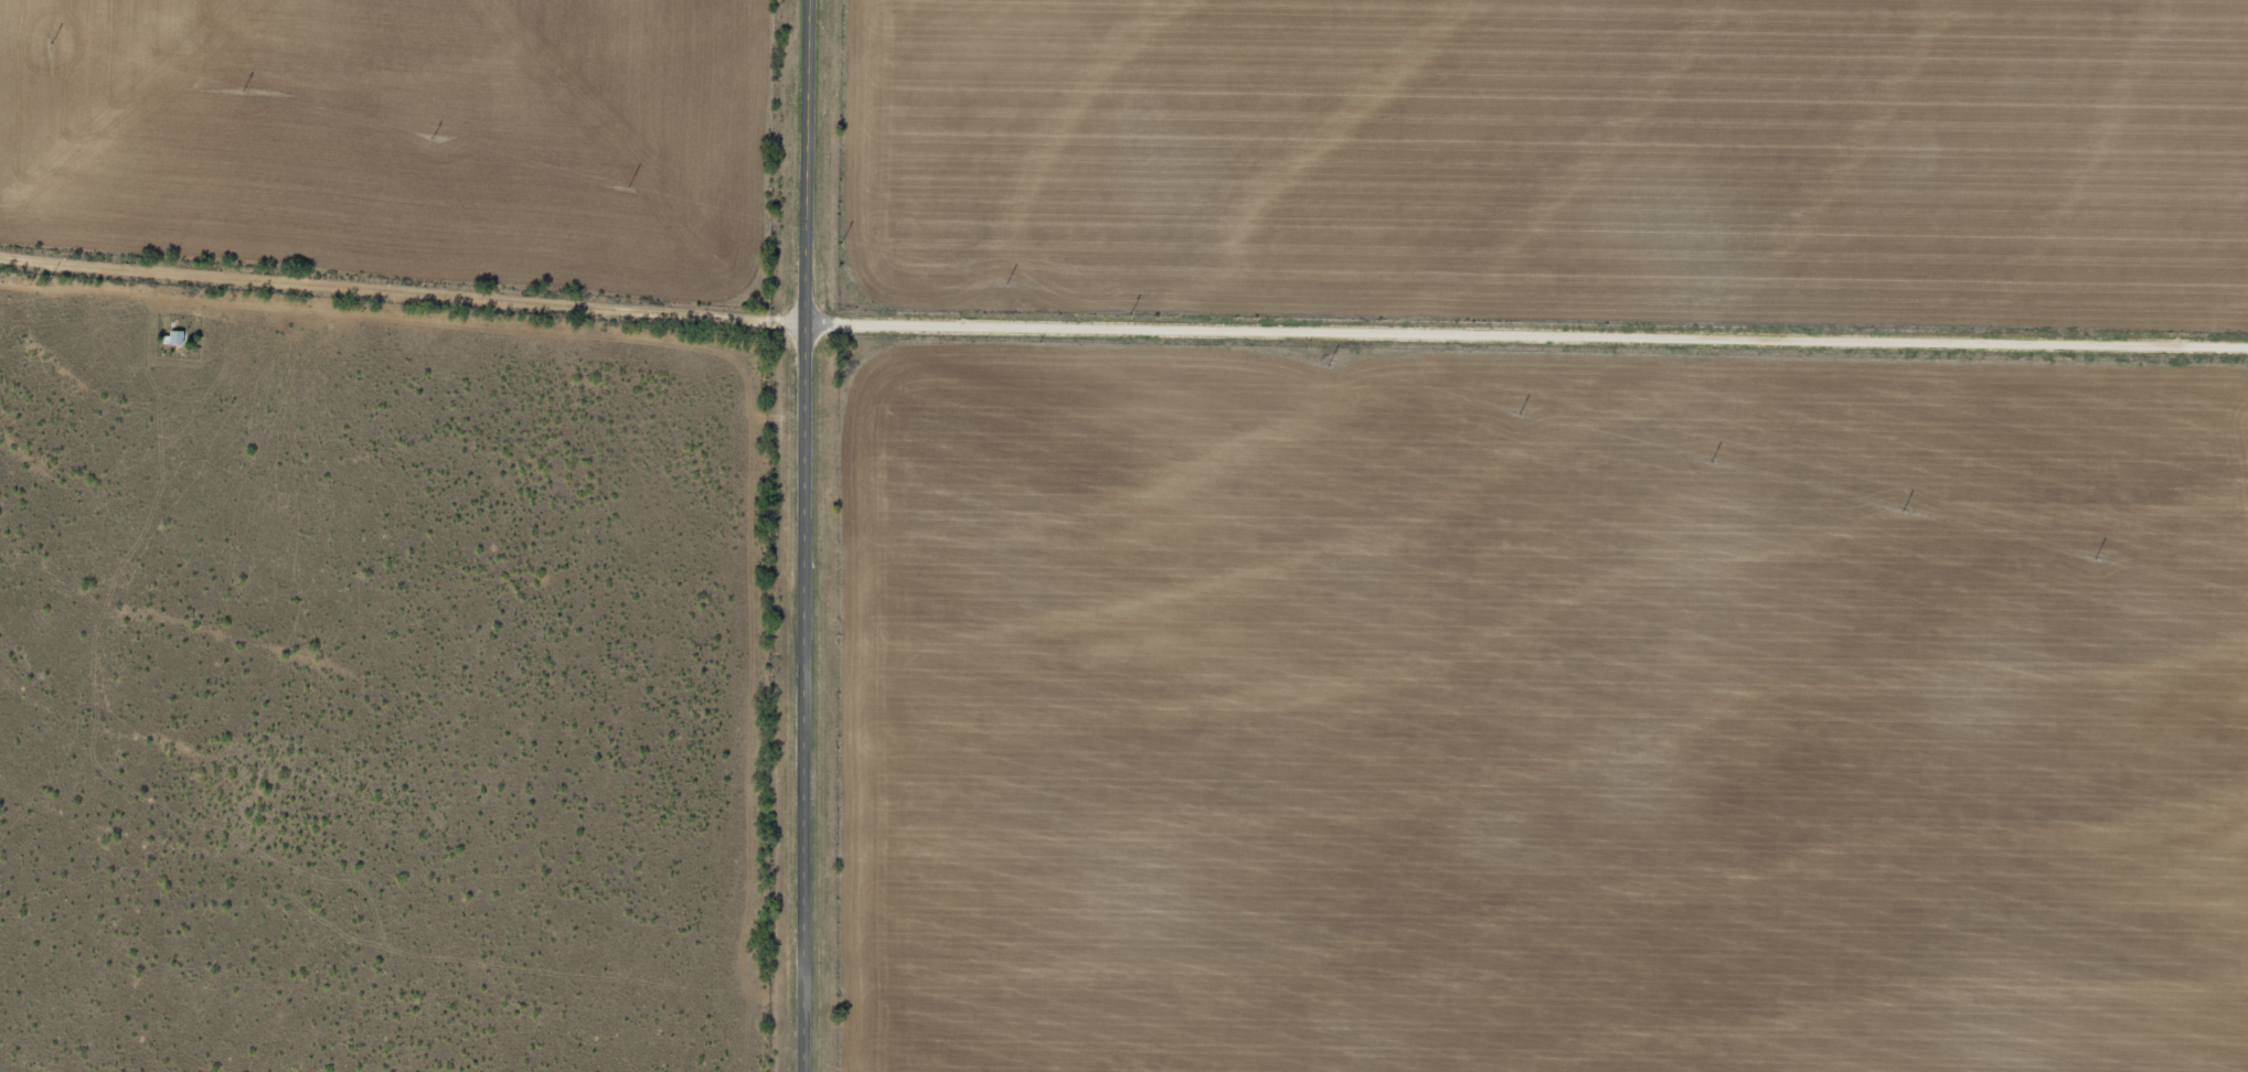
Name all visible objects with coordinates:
road: (405, 289)
road: (1528, 332)
building: (175, 339)
road: (809, 535)

